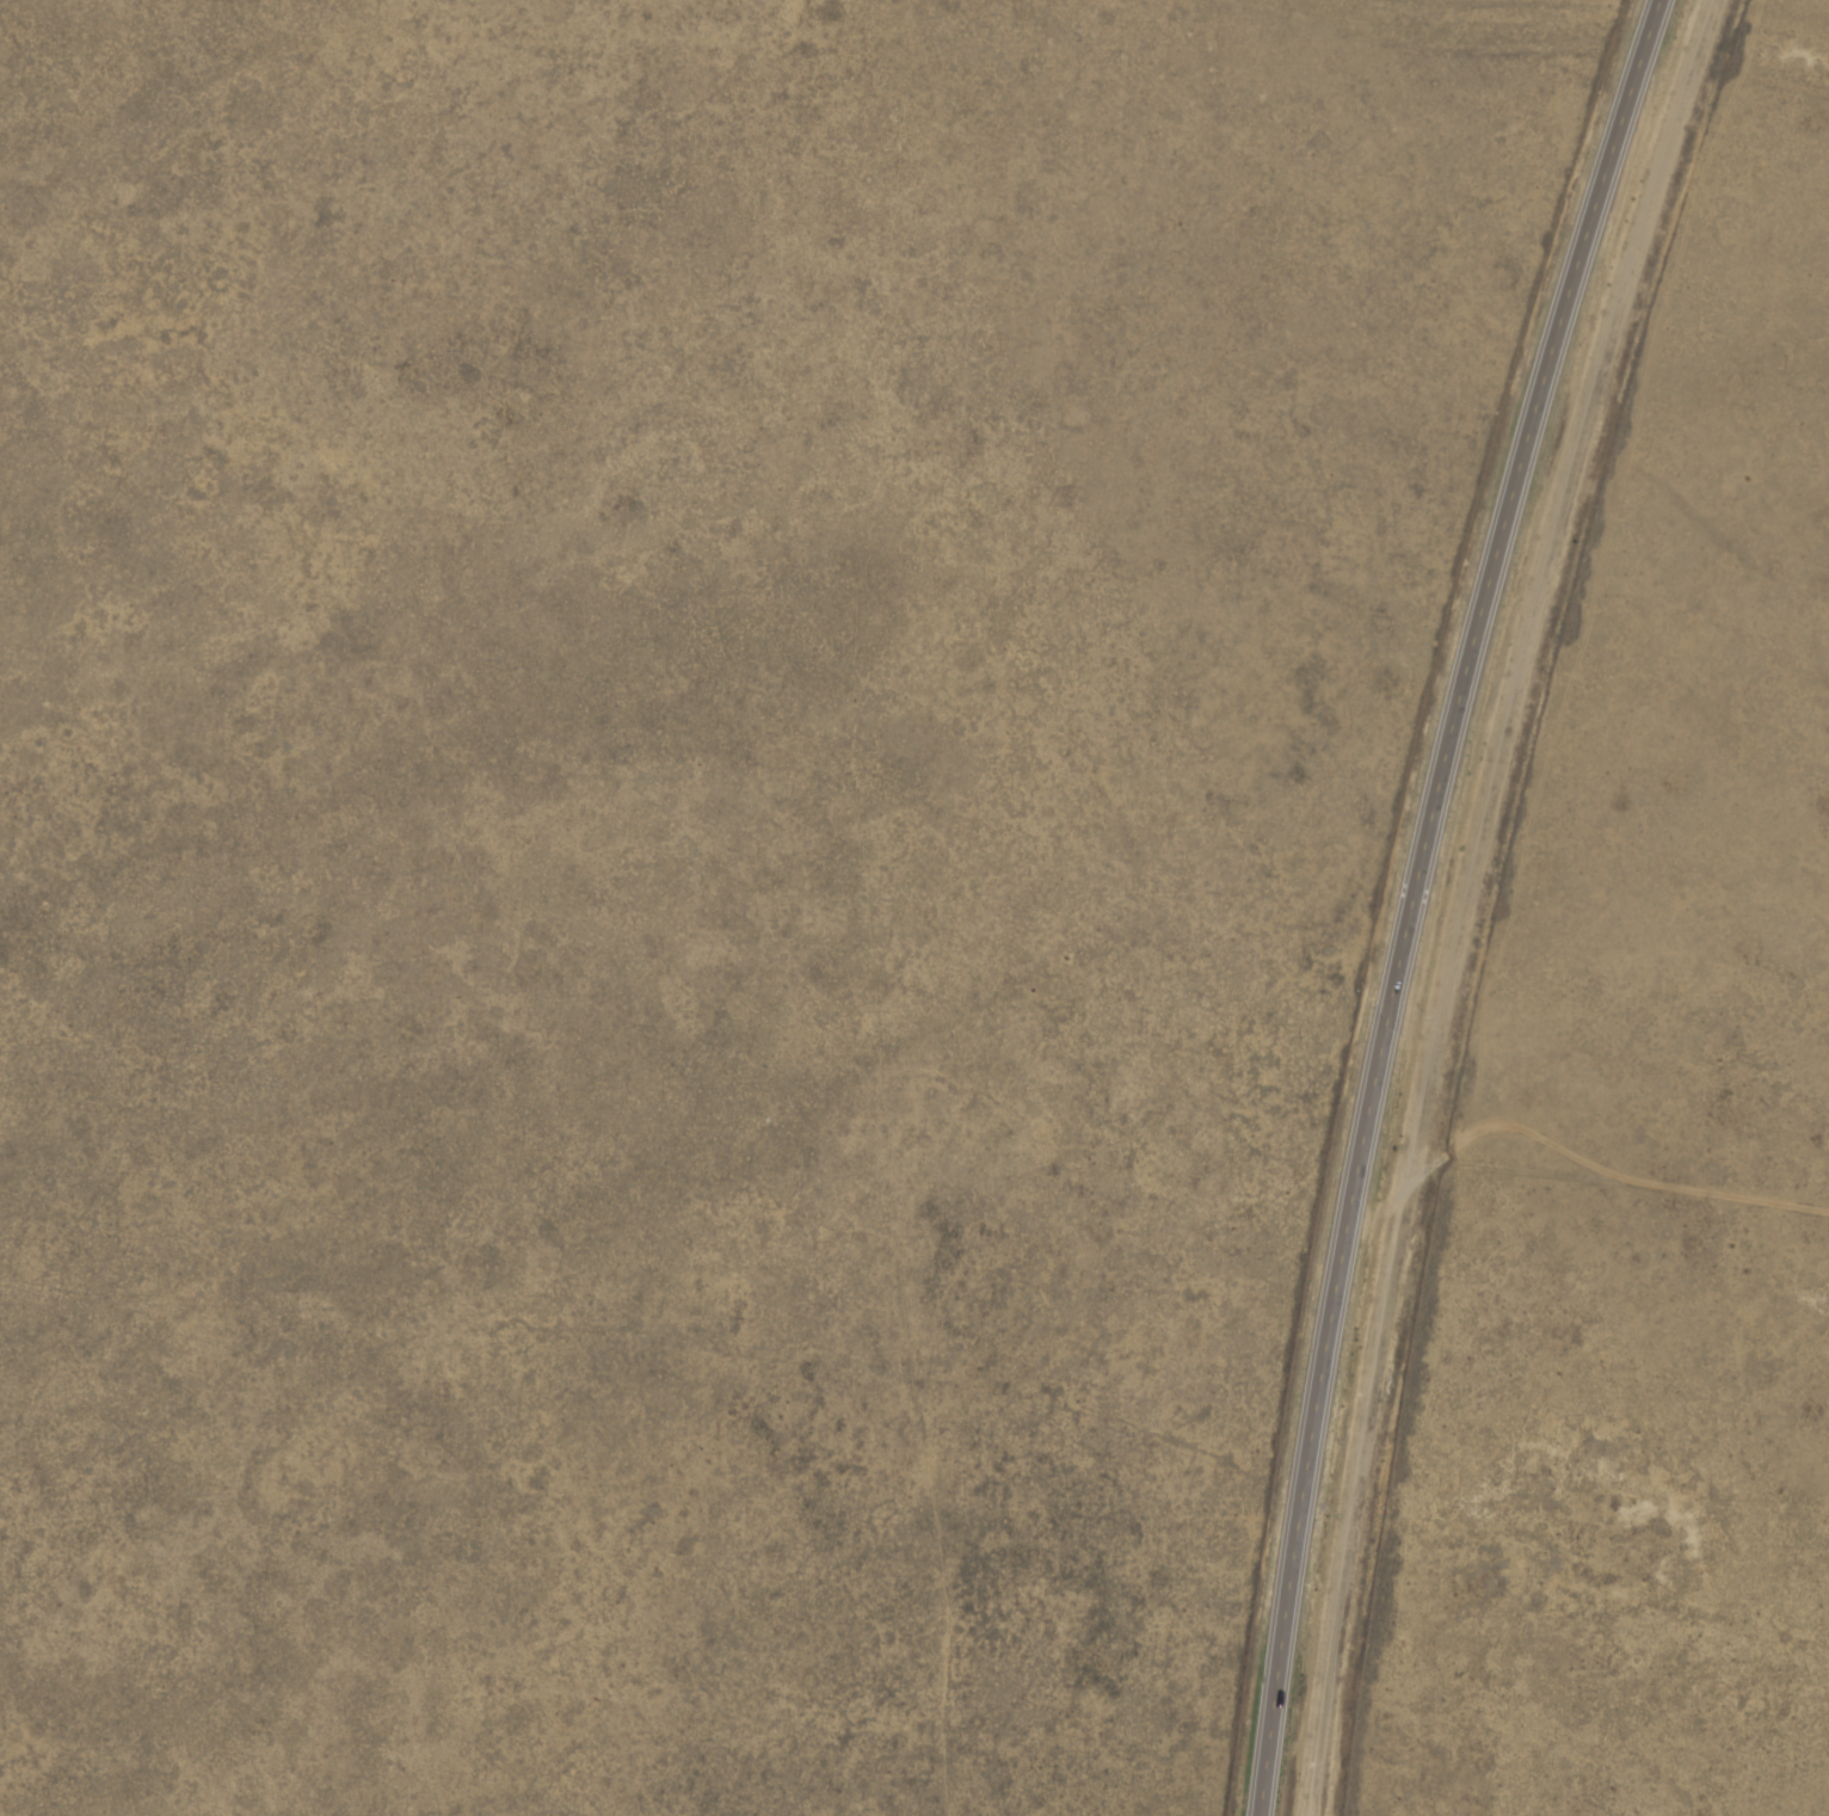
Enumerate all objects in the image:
road: (1398, 897)
road: (1569, 1145)

